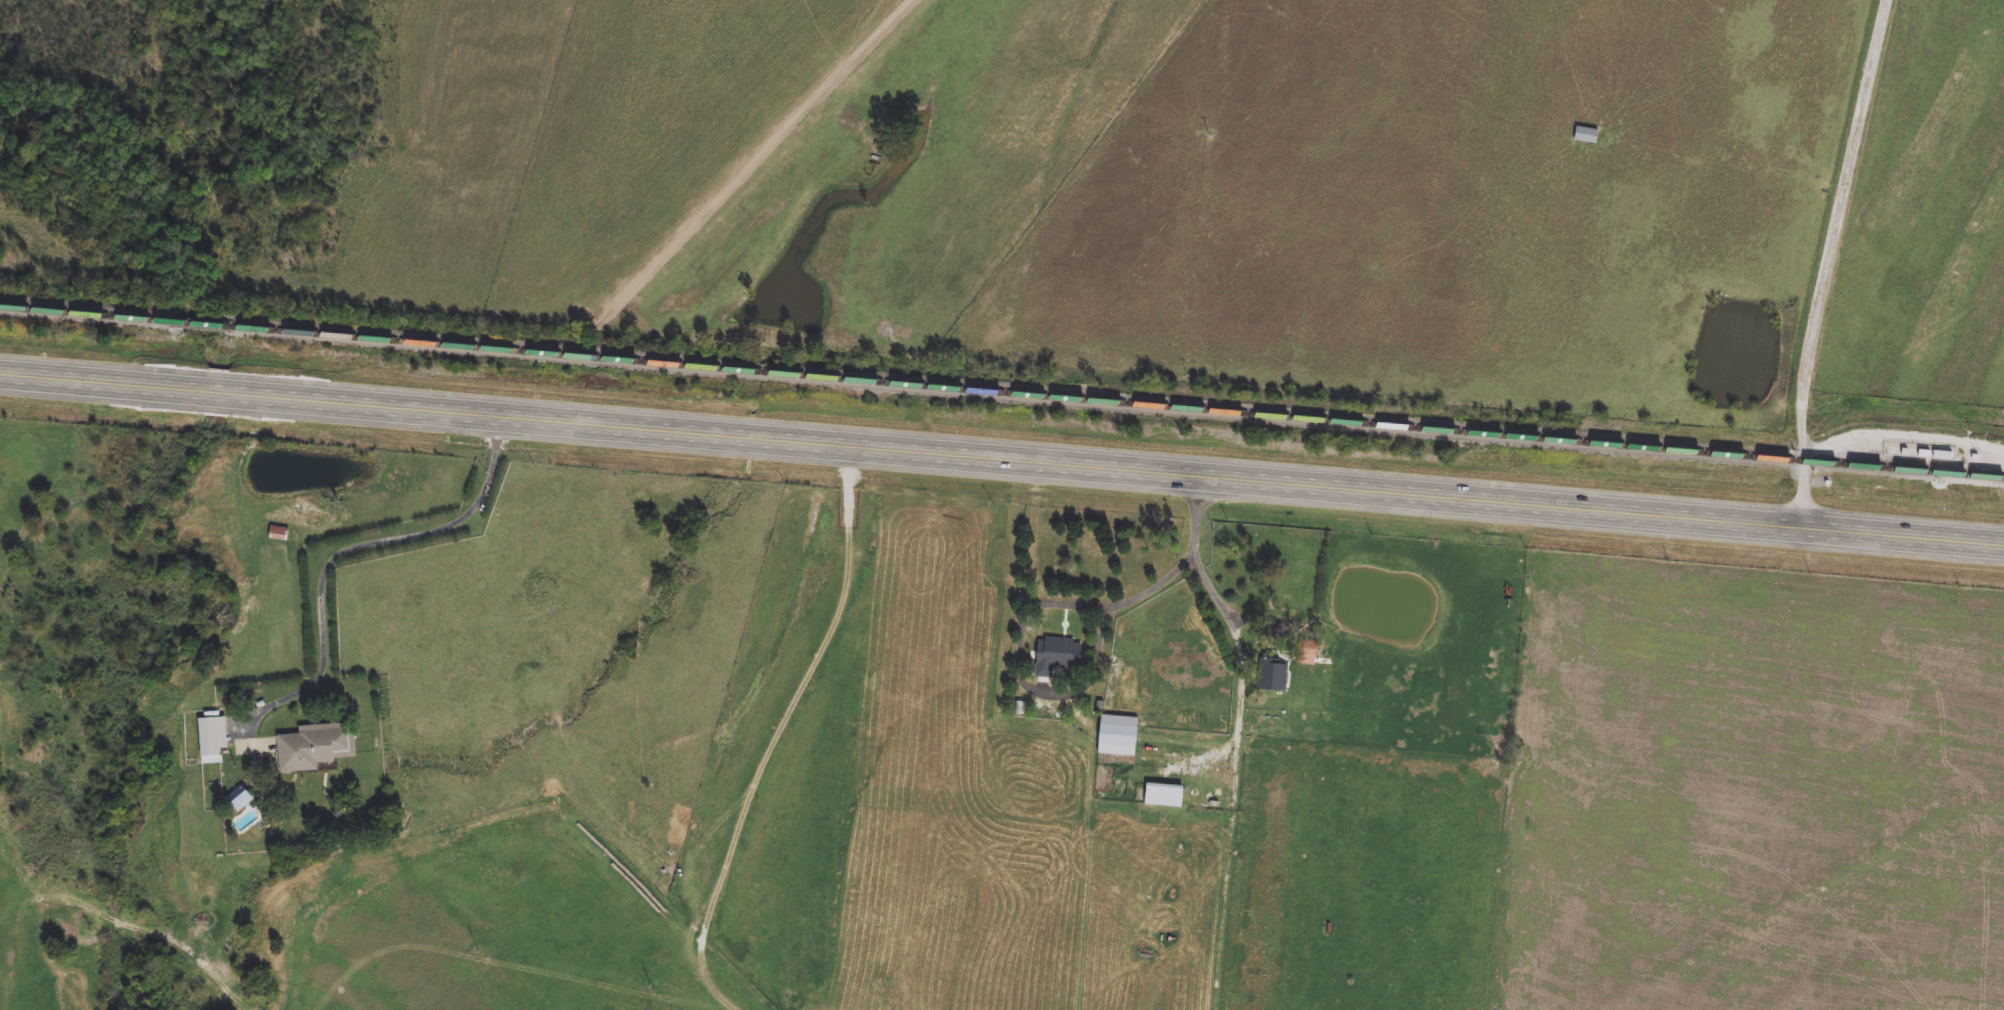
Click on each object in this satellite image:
road: (1826, 264)
railway: (84, 312)
railway: (200, 322)
railway: (1117, 401)
building: (1942, 451)
road: (1001, 469)
railway: (1987, 474)
building: (285, 533)
road: (346, 549)
road: (1132, 598)
road: (1233, 618)
road: (1019, 649)
building: (1315, 653)
building: (1057, 655)
building: (1271, 675)
building: (1118, 735)
building: (213, 737)
building: (316, 746)
building: (1164, 794)
building: (240, 798)

